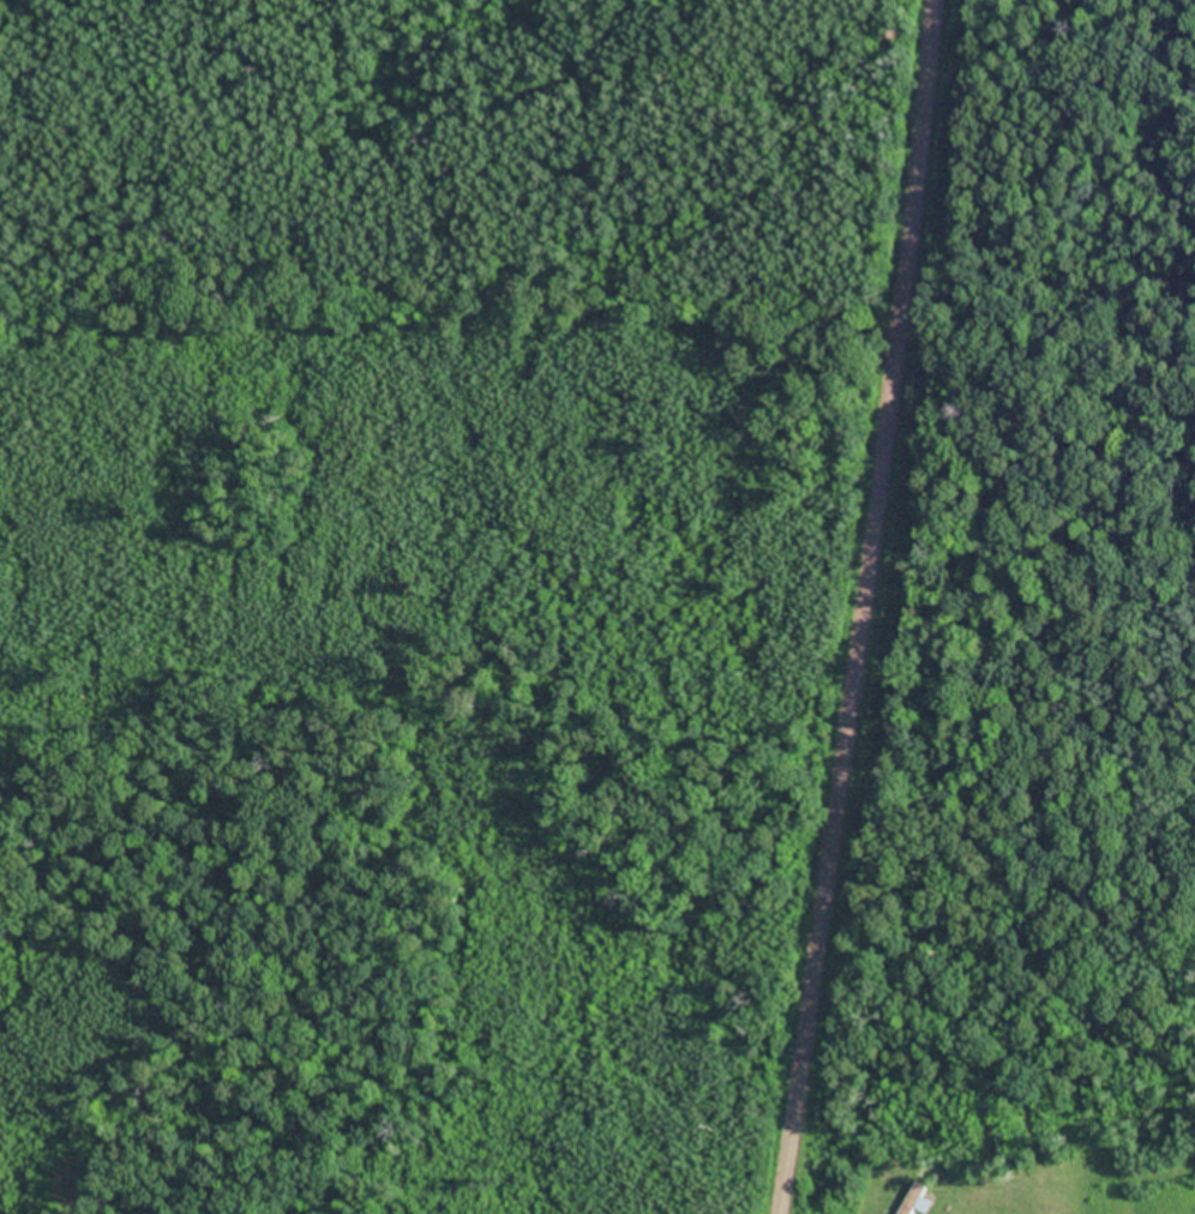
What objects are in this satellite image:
road: (860, 607)
building: (915, 1202)

